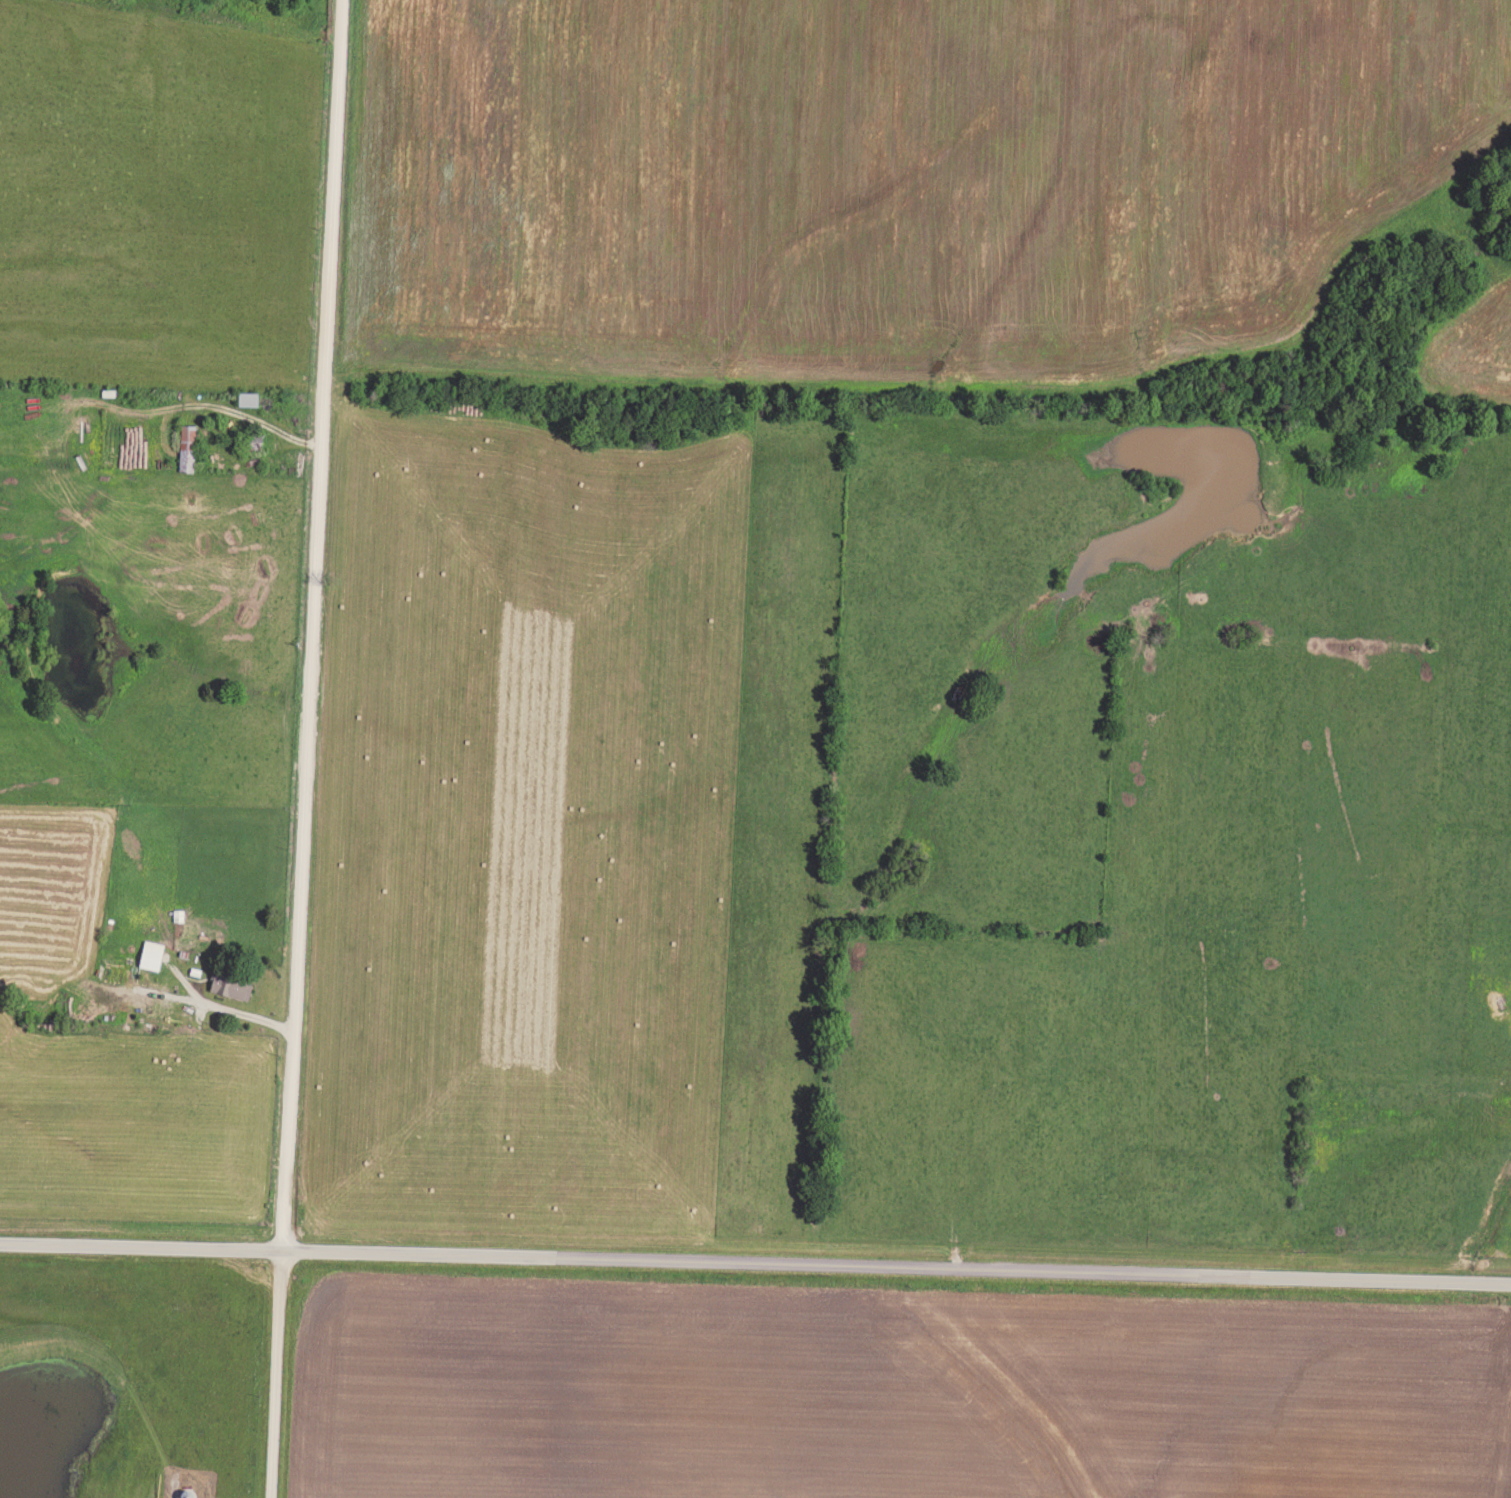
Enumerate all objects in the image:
building: (250, 398)
road: (227, 406)
building: (189, 446)
road: (308, 748)
building: (154, 953)
building: (232, 985)
road: (227, 1008)
road: (755, 1260)

